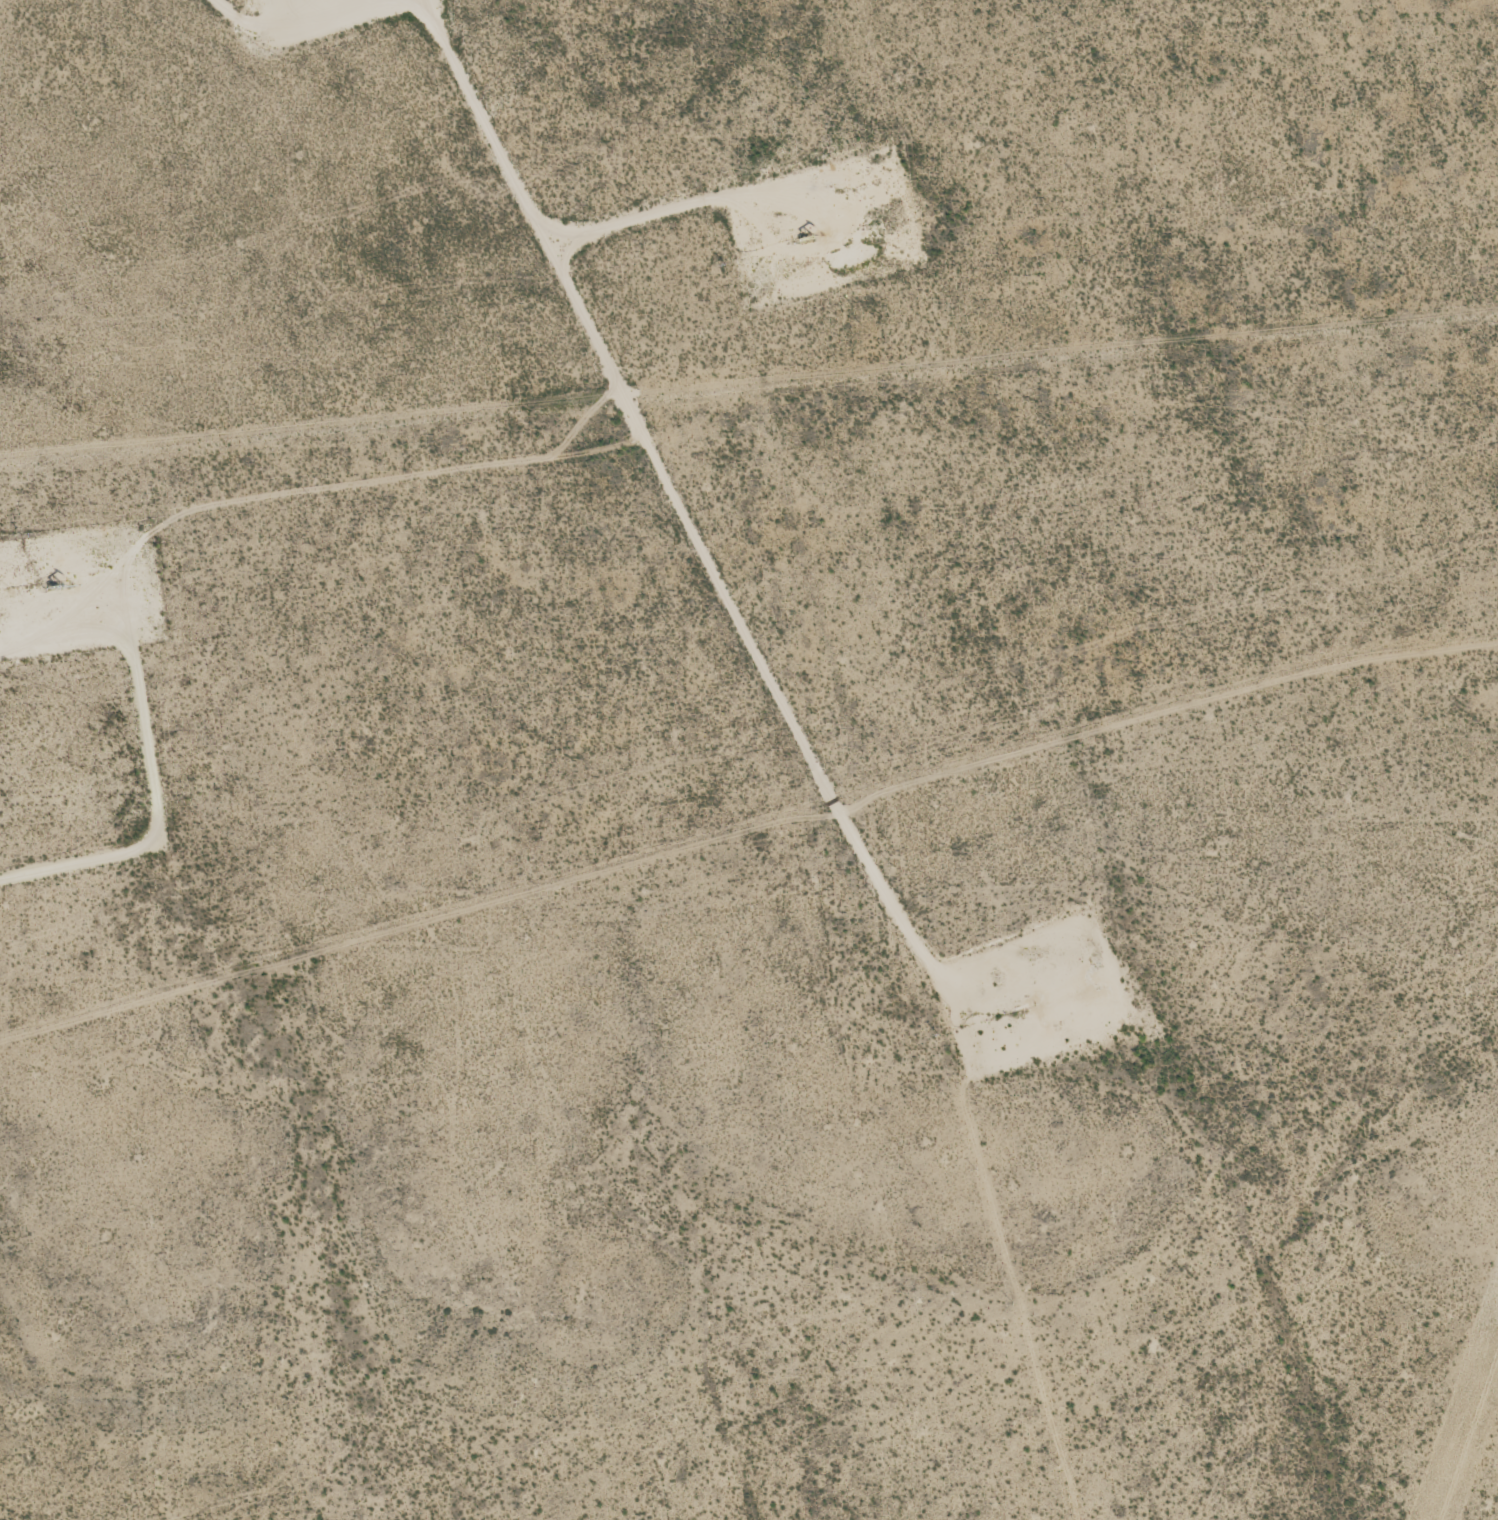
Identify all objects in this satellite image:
road: (314, 26)
road: (675, 483)
road: (64, 637)
road: (149, 772)

